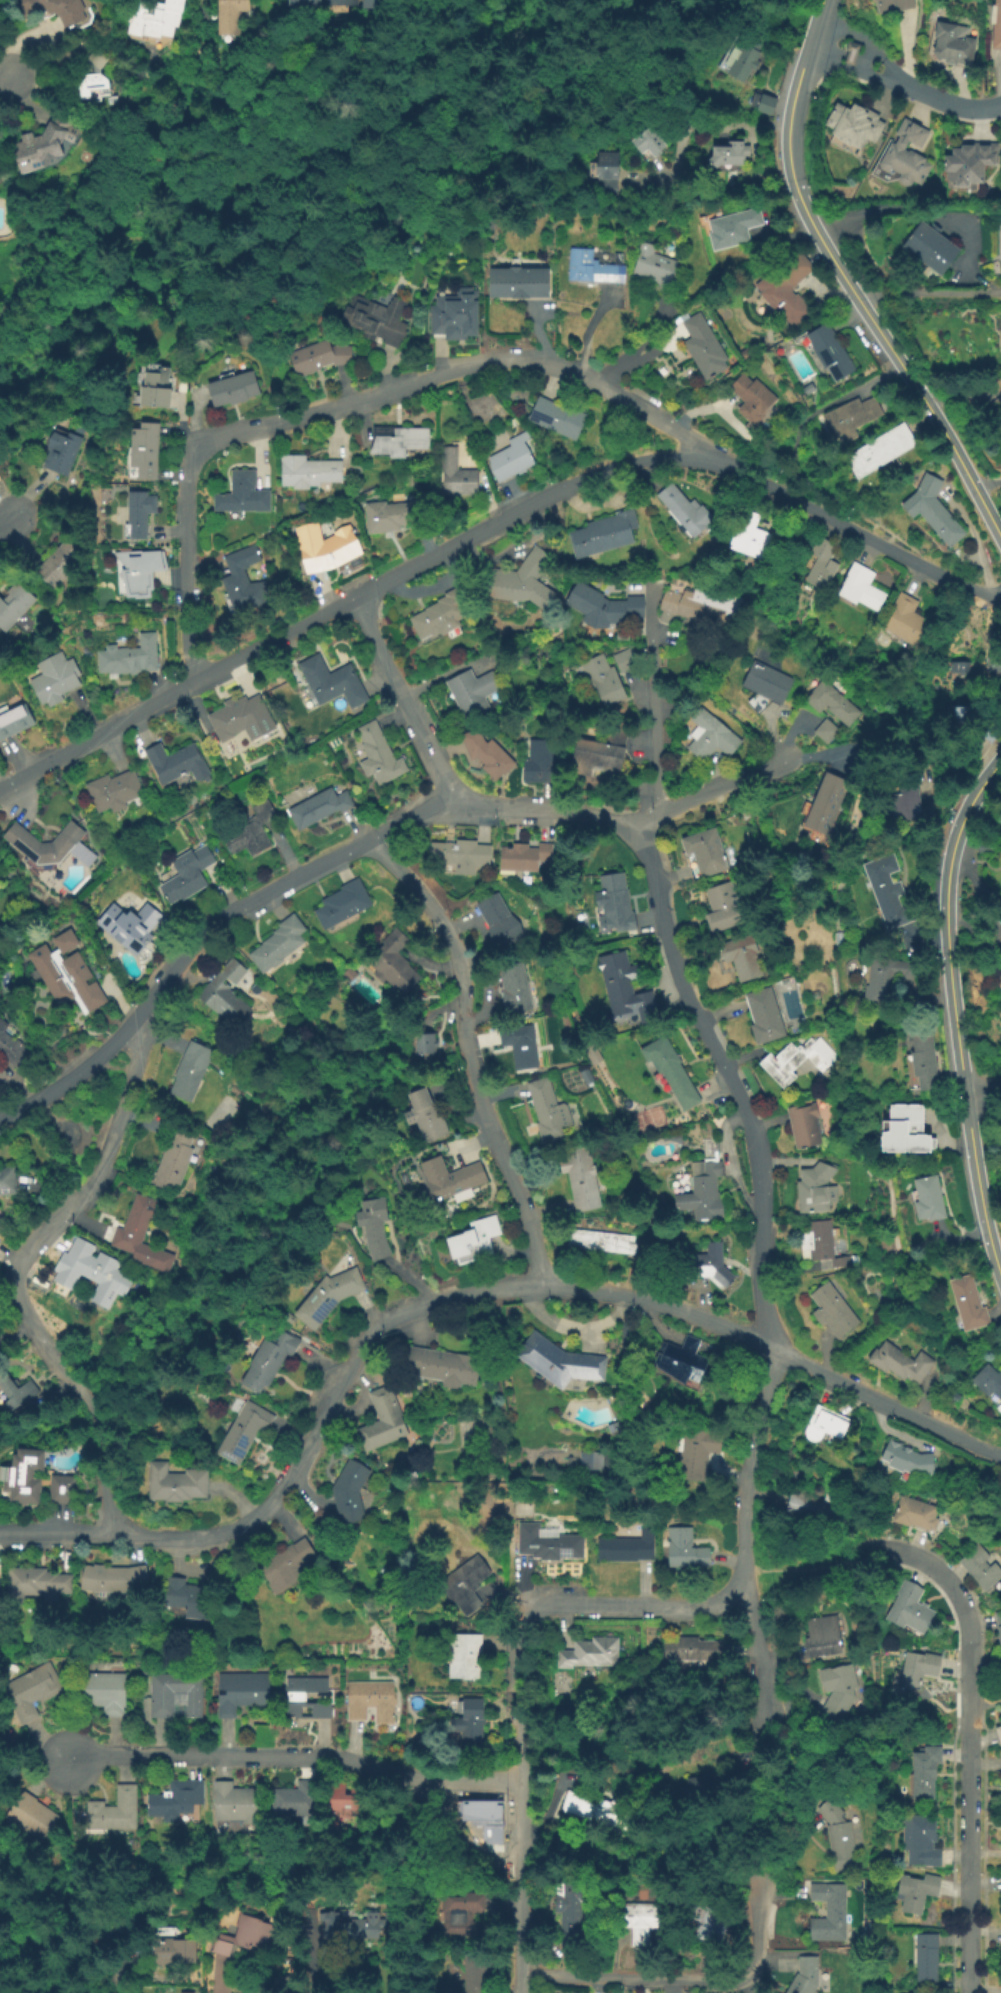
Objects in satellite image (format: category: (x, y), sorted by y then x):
building: (302, 2)
building: (339, 2)
building: (367, 3)
building: (891, 5)
building: (55, 9)
road: (820, 10)
building: (230, 15)
building: (153, 17)
building: (996, 25)
road: (864, 39)
building: (952, 44)
building: (849, 52)
road: (907, 52)
building: (740, 56)
road: (850, 70)
road: (4, 76)
building: (94, 79)
road: (885, 94)
road: (946, 102)
building: (761, 103)
building: (852, 128)
road: (683, 129)
building: (647, 143)
building: (43, 144)
building: (728, 154)
building: (905, 156)
building: (968, 163)
building: (603, 167)
building: (607, 188)
road: (909, 211)
road: (5, 216)
building: (1000, 217)
building: (731, 229)
building: (929, 247)
building: (654, 264)
building: (591, 268)
building: (520, 281)
building: (785, 287)
road: (851, 289)
road: (928, 295)
building: (456, 311)
building: (375, 319)
building: (702, 346)
building: (743, 351)
building: (828, 352)
building: (316, 357)
road: (453, 373)
building: (152, 389)
building: (231, 389)
building: (806, 390)
building: (752, 398)
road: (963, 400)
building: (557, 418)
building: (848, 418)
building: (398, 441)
building: (880, 451)
road: (712, 452)
building: (59, 453)
building: (141, 453)
building: (513, 457)
building: (308, 472)
building: (458, 475)
road: (987, 485)
building: (242, 494)
building: (931, 509)
building: (687, 512)
building: (137, 513)
building: (395, 515)
road: (837, 521)
road: (6, 522)
building: (604, 534)
building: (749, 536)
building: (328, 548)
building: (823, 562)
road: (188, 564)
building: (56, 566)
building: (142, 574)
building: (245, 581)
building: (522, 581)
building: (863, 586)
road: (980, 592)
road: (346, 599)
building: (13, 606)
building: (703, 606)
building: (603, 607)
building: (442, 613)
building: (910, 620)
building: (127, 658)
building: (625, 661)
building: (992, 665)
building: (957, 668)
building: (54, 679)
building: (602, 680)
building: (331, 683)
building: (766, 687)
building: (472, 693)
road: (403, 699)
building: (833, 701)
road: (656, 713)
building: (237, 716)
building: (960, 719)
building: (14, 721)
building: (827, 730)
building: (708, 735)
building: (488, 751)
building: (600, 752)
building: (378, 755)
building: (538, 762)
building: (176, 764)
building: (113, 791)
building: (902, 800)
building: (318, 807)
building: (823, 809)
building: (746, 817)
building: (251, 831)
building: (42, 845)
building: (986, 847)
road: (353, 848)
building: (707, 852)
building: (460, 854)
building: (524, 858)
building: (189, 873)
building: (887, 891)
building: (614, 904)
building: (342, 905)
building: (724, 907)
building: (499, 920)
building: (133, 926)
building: (279, 946)
road: (975, 950)
building: (742, 957)
building: (393, 963)
building: (68, 974)
building: (351, 974)
road: (949, 975)
building: (884, 978)
building: (513, 988)
building: (627, 989)
building: (225, 995)
building: (766, 1015)
building: (422, 1044)
building: (520, 1046)
building: (11, 1049)
road: (462, 1053)
building: (797, 1059)
building: (920, 1061)
building: (189, 1071)
building: (671, 1071)
building: (587, 1075)
road: (729, 1077)
road: (983, 1093)
building: (548, 1114)
building: (425, 1117)
building: (804, 1125)
building: (903, 1128)
building: (173, 1160)
building: (581, 1178)
building: (453, 1180)
building: (7, 1182)
building: (704, 1186)
building: (817, 1188)
building: (926, 1200)
building: (373, 1228)
building: (141, 1236)
building: (601, 1241)
building: (473, 1242)
road: (988, 1243)
building: (822, 1245)
building: (706, 1266)
building: (90, 1271)
road: (17, 1274)
building: (328, 1298)
building: (967, 1306)
building: (831, 1312)
road: (391, 1317)
building: (268, 1361)
building: (559, 1362)
building: (679, 1362)
building: (898, 1364)
building: (442, 1368)
building: (988, 1382)
building: (15, 1392)
road: (884, 1402)
building: (383, 1421)
building: (823, 1426)
building: (615, 1427)
building: (242, 1429)
building: (692, 1450)
building: (591, 1462)
building: (905, 1463)
road: (749, 1471)
building: (22, 1477)
building: (175, 1485)
building: (62, 1492)
building: (350, 1493)
building: (811, 1508)
building: (914, 1516)
road: (57, 1536)
building: (549, 1545)
building: (628, 1547)
building: (683, 1553)
road: (858, 1557)
building: (286, 1566)
building: (977, 1568)
road: (784, 1575)
building: (113, 1580)
building: (36, 1585)
building: (467, 1585)
building: (189, 1600)
road: (631, 1606)
building: (907, 1610)
building: (997, 1630)
building: (821, 1638)
building: (689, 1651)
road: (759, 1651)
building: (591, 1654)
building: (465, 1659)
building: (916, 1670)
building: (835, 1690)
building: (105, 1691)
building: (34, 1693)
building: (241, 1693)
building: (305, 1697)
building: (372, 1701)
building: (164, 1707)
building: (1000, 1711)
building: (471, 1725)
building: (998, 1734)
road: (968, 1746)
road: (297, 1757)
building: (923, 1771)
building: (712, 1787)
road: (522, 1799)
building: (175, 1801)
building: (296, 1801)
building: (236, 1804)
building: (597, 1806)
building: (341, 1807)
building: (480, 1809)
building: (115, 1812)
building: (31, 1818)
building: (840, 1837)
building: (1000, 1838)
building: (917, 1842)
building: (914, 1892)
building: (573, 1908)
building: (458, 1911)
building: (831, 1914)
building: (636, 1917)
building: (709, 1921)
building: (352, 1929)
building: (244, 1939)
building: (174, 1954)
building: (924, 1957)
road: (309, 1958)
building: (1000, 1964)
building: (478, 1972)
building: (808, 1972)
road: (114, 1973)
road: (218, 1978)
road: (683, 1978)
building: (184, 1992)
building: (912, 1992)

